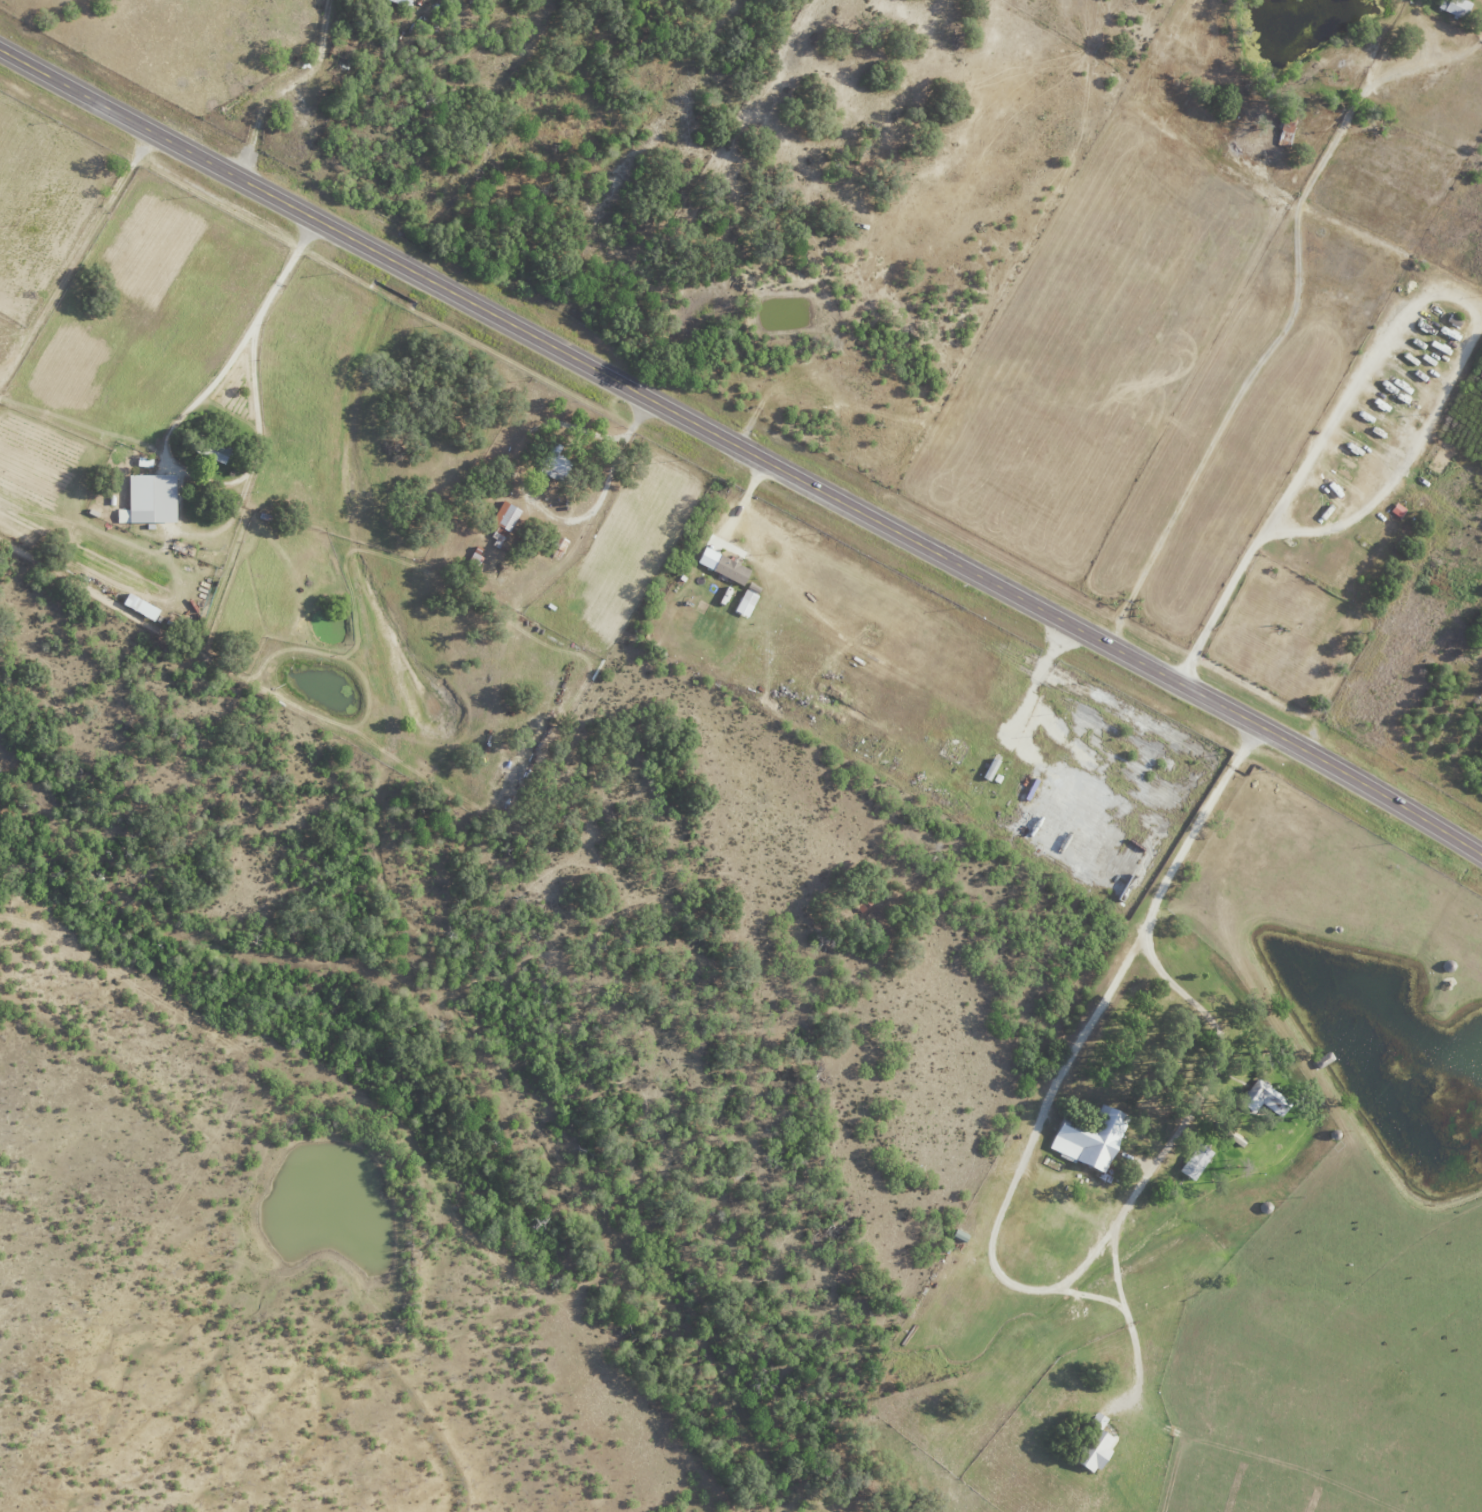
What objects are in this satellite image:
building: (401, 2)
building: (1457, 7)
road: (135, 52)
road: (284, 85)
road: (80, 270)
road: (1293, 313)
road: (240, 341)
road: (742, 442)
road: (1309, 450)
building: (219, 453)
road: (1402, 461)
building: (558, 464)
building: (151, 500)
road: (744, 502)
building: (1399, 511)
road: (537, 514)
building: (506, 519)
building: (725, 566)
building: (749, 600)
road: (1023, 863)
road: (1150, 909)
building: (1094, 1141)
building: (1198, 1162)
road: (991, 1239)
road: (1123, 1302)
road: (1138, 1357)
building: (1099, 1453)

